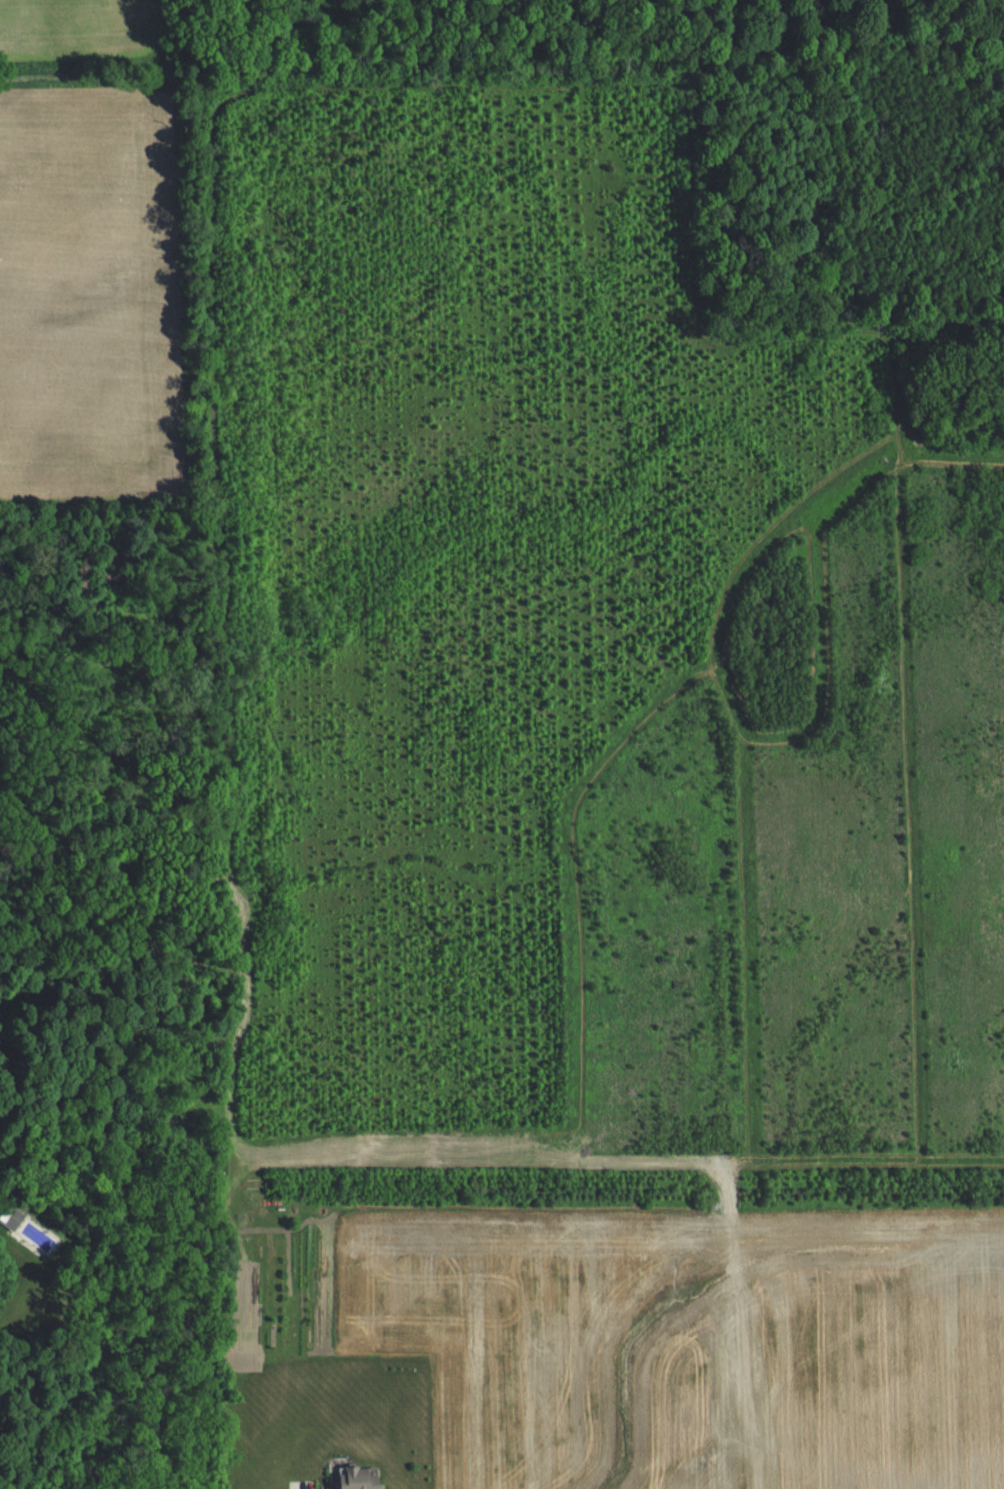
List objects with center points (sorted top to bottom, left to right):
building: (11, 1214)
building: (359, 1476)

